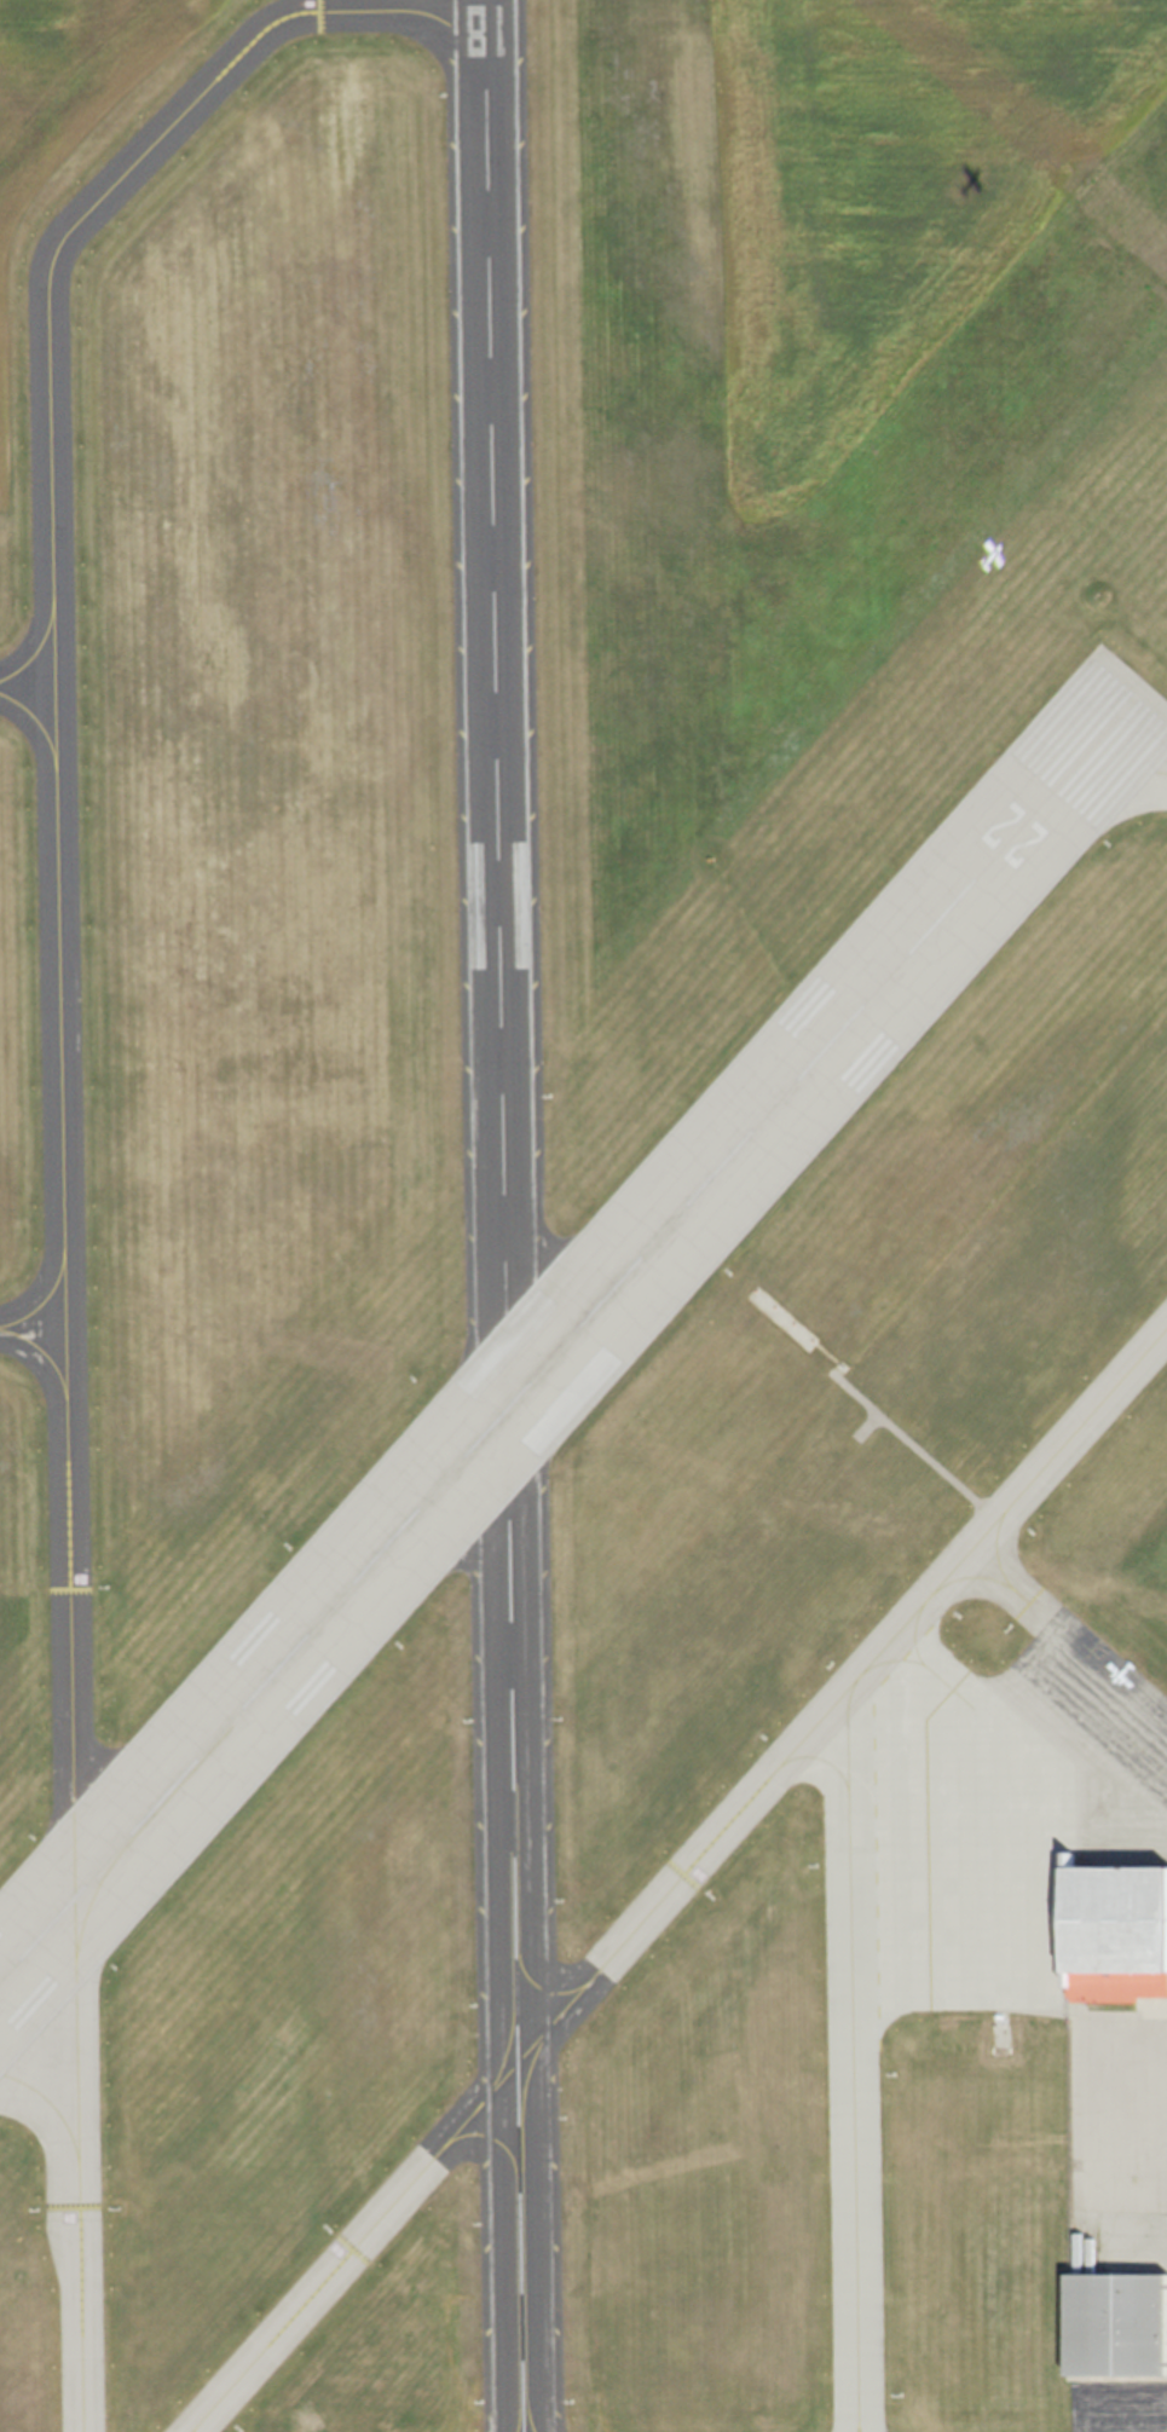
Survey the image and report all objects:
airport taxiway: (395, 10)
airport taxiway: (36, 649)
airport taxiway: (37, 721)
airport taxiway: (1119, 768)
airport taxiway: (62, 1168)
airport runway: (502, 1215)
airport: (583, 1215)
airport taxiway: (44, 1300)
airport runway: (576, 1334)
airport taxiway: (42, 1351)
airport taxiway: (994, 1548)
airport taxiway: (981, 1576)
airport taxiway: (819, 1758)
airport apron: (1004, 1810)
airport taxiway: (677, 1877)
airport hangar: (1117, 1940)
building: (1117, 1940)
airport taxiway: (850, 2052)
airport hangar: (1114, 2326)
building: (1114, 2326)
airport apron: (1115, 2404)
airport taxiway: (192, 2430)

